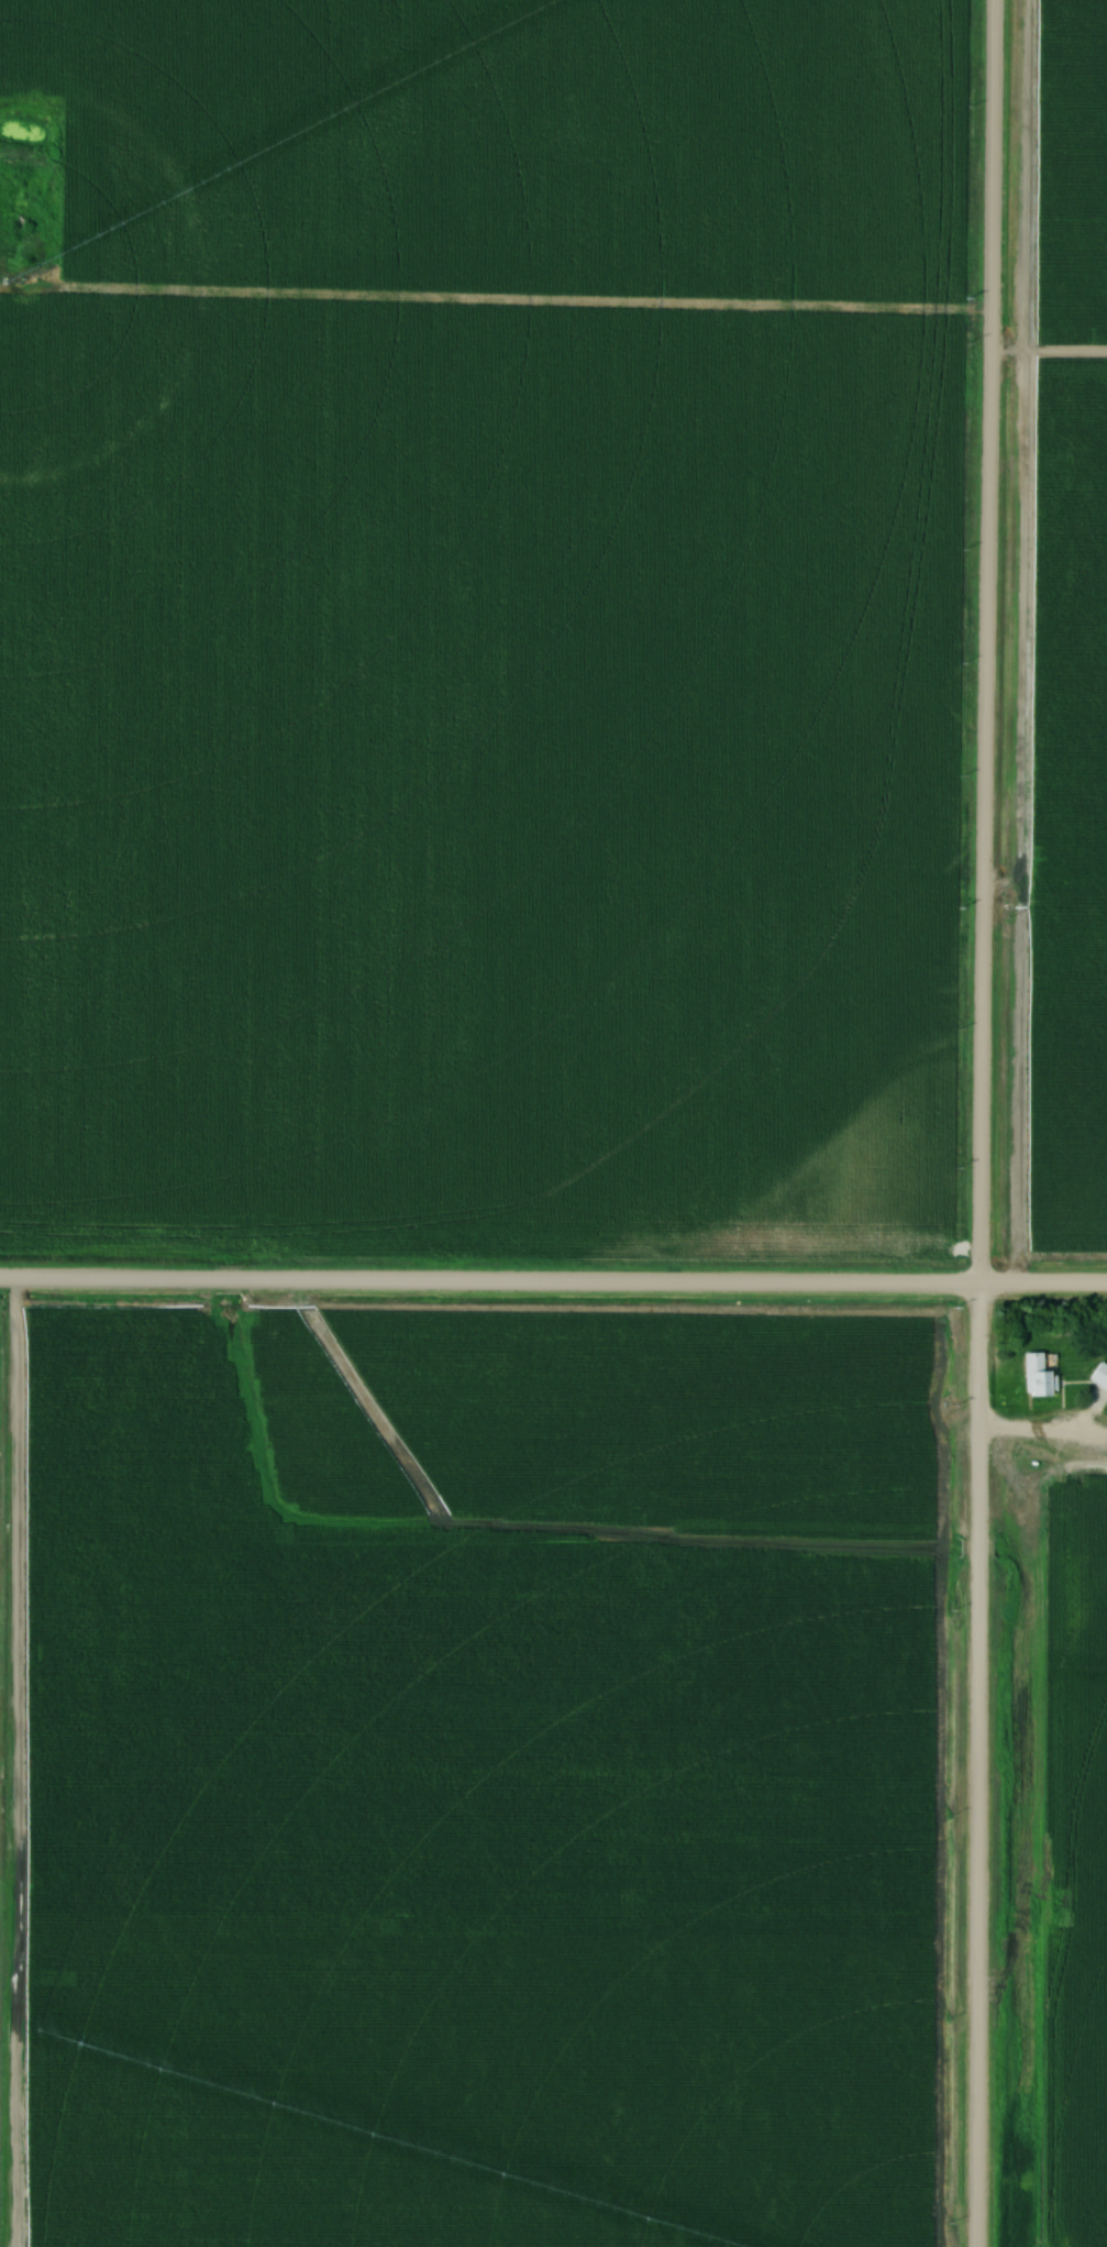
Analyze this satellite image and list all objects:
road: (983, 1123)
road: (553, 1286)
building: (1040, 1377)
building: (1100, 1378)
road: (1045, 1431)

